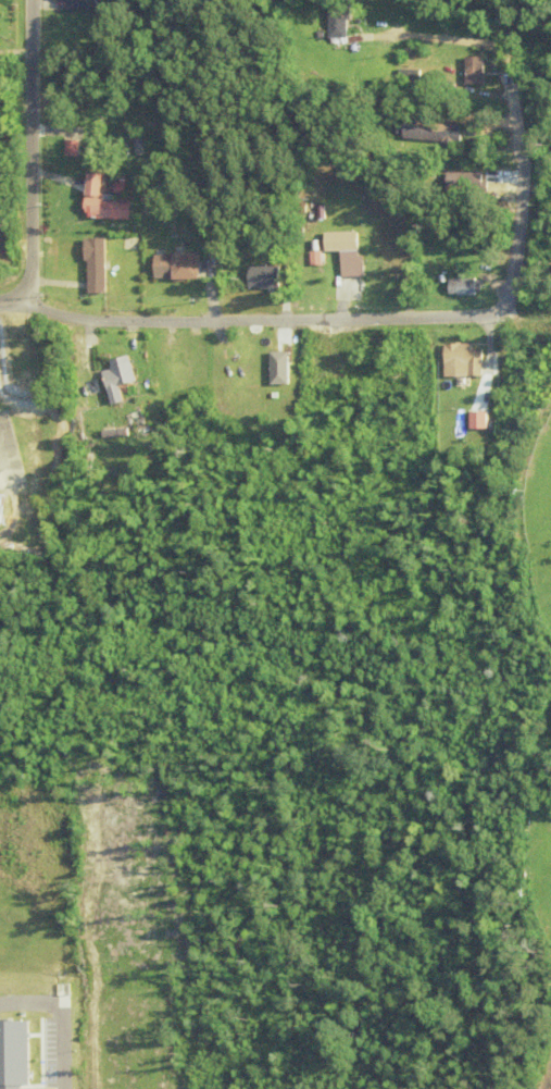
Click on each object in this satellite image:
building: (0, 0)
building: (83, 4)
building: (336, 20)
building: (474, 69)
building: (430, 132)
road: (33, 156)
building: (464, 184)
building: (153, 196)
building: (109, 201)
building: (345, 252)
building: (100, 265)
building: (185, 265)
building: (262, 277)
building: (462, 287)
road: (7, 306)
road: (380, 314)
building: (315, 355)
building: (455, 361)
building: (183, 367)
building: (275, 378)
building: (122, 379)
building: (444, 394)
park: (541, 488)
building: (2, 505)
park: (544, 585)
park: (519, 693)
park: (540, 850)
building: (2, 993)
parking lot: (546, 1074)

